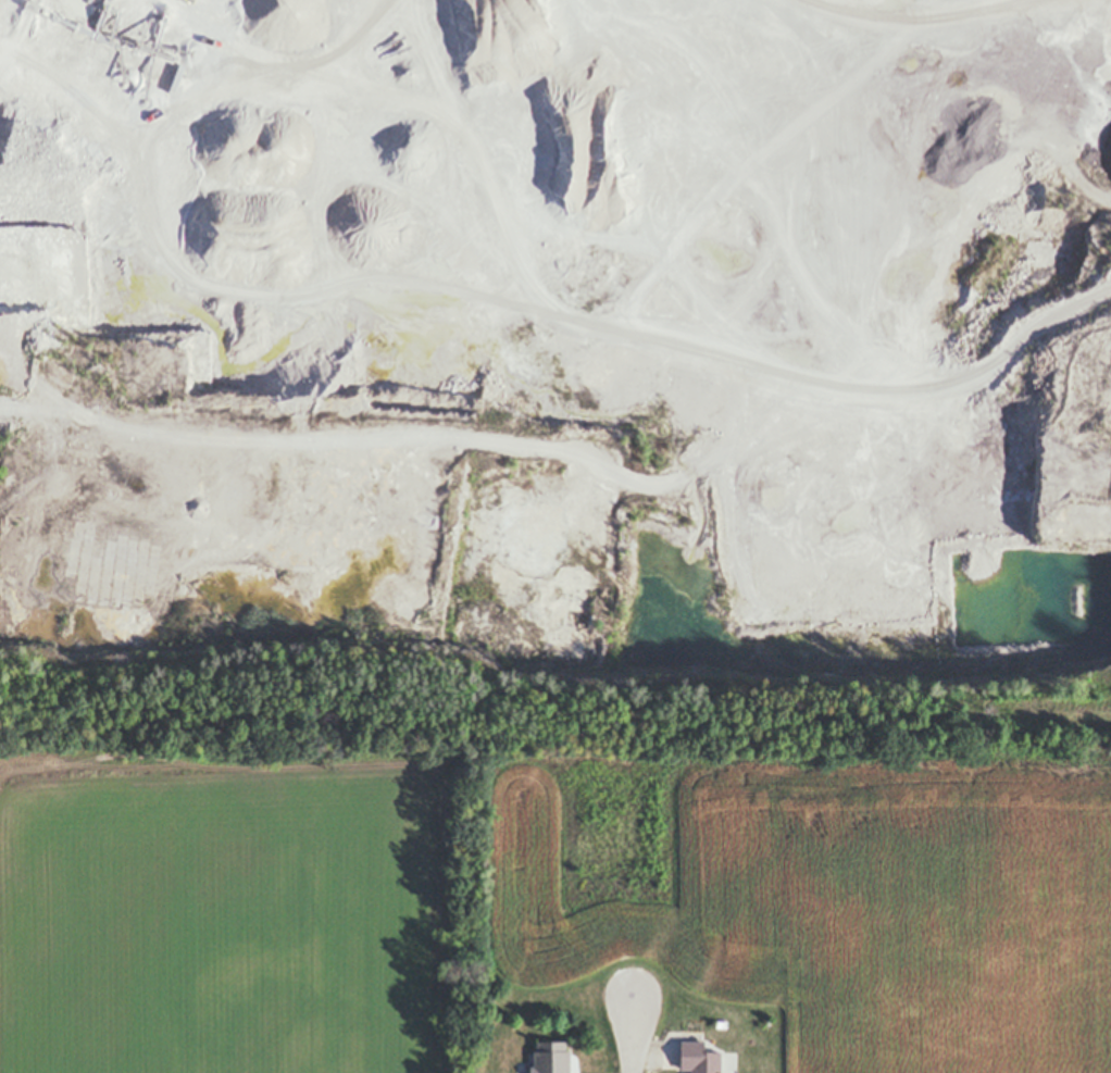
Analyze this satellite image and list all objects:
quarry: (560, 333)
road: (632, 1021)
building: (770, 1022)
building: (555, 1058)
building: (701, 1059)

